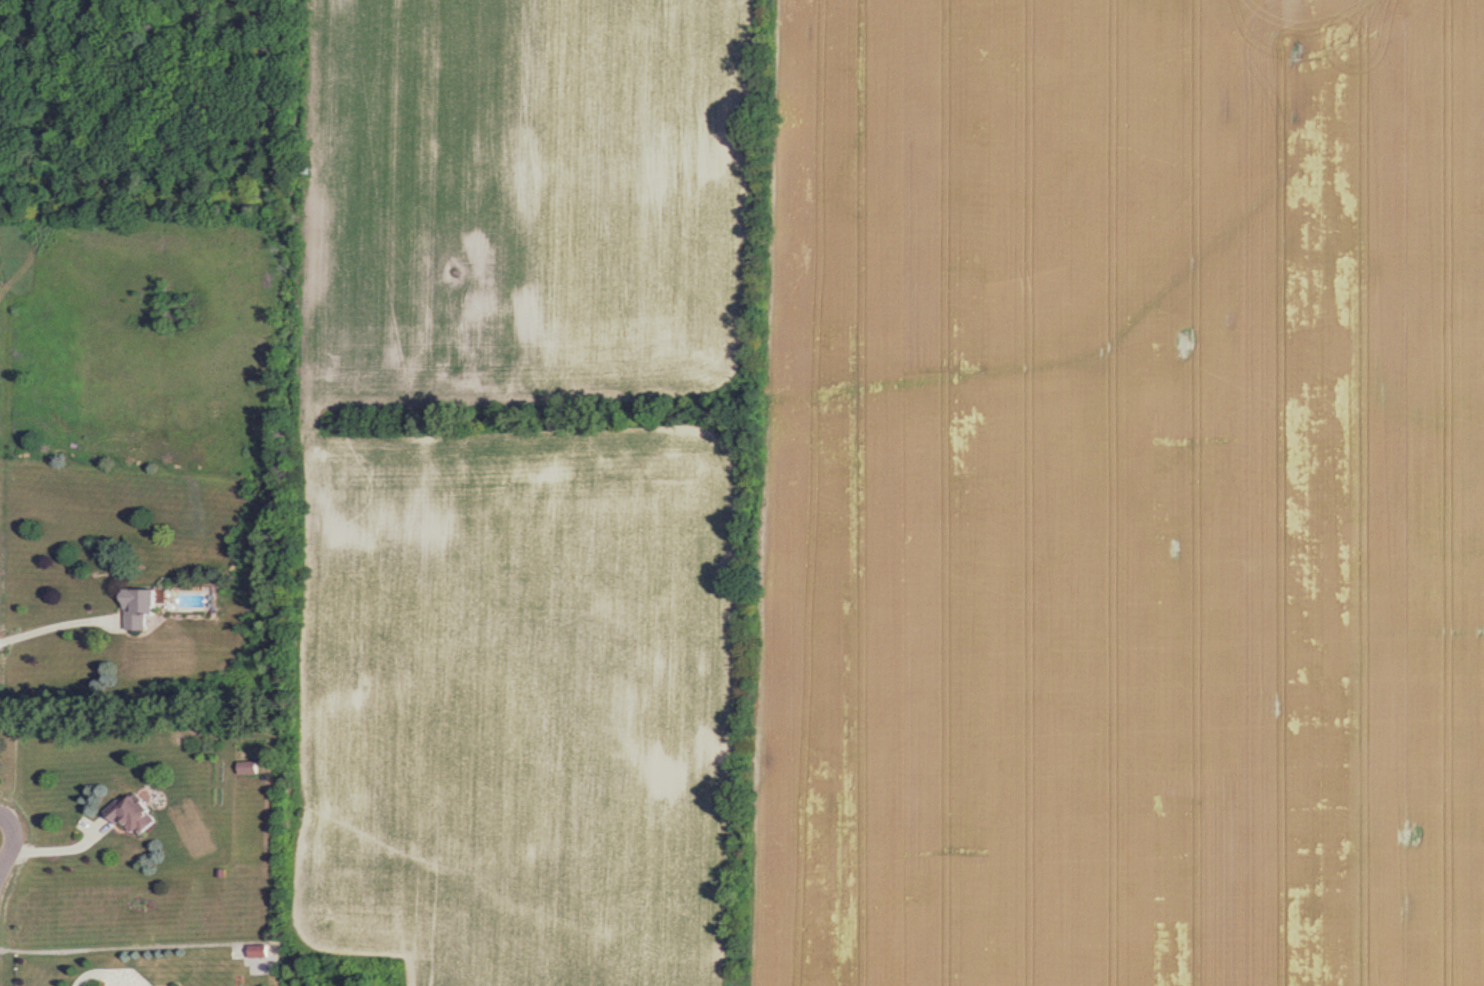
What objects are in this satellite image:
building: (147, 608)
road: (47, 619)
building: (251, 767)
building: (136, 814)
road: (55, 850)
building: (262, 952)

